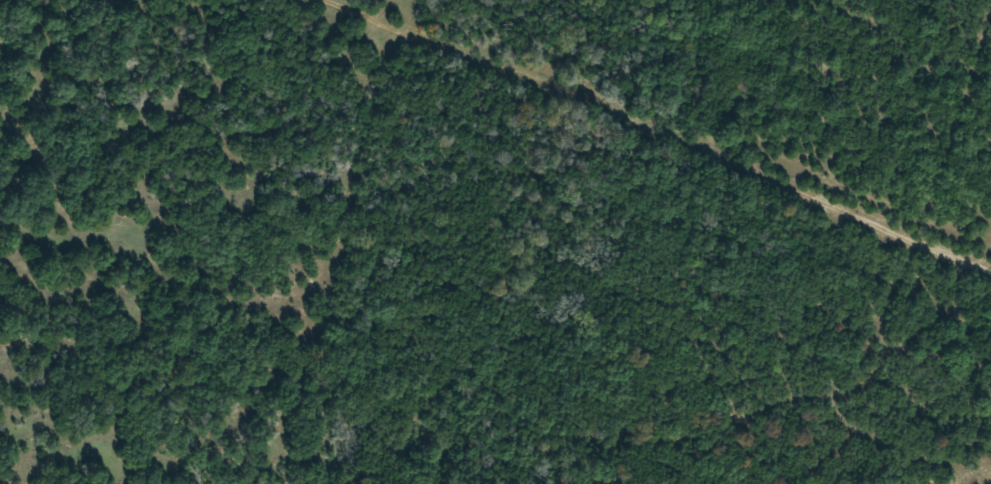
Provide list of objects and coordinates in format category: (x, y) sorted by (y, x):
park: (495, 242)

